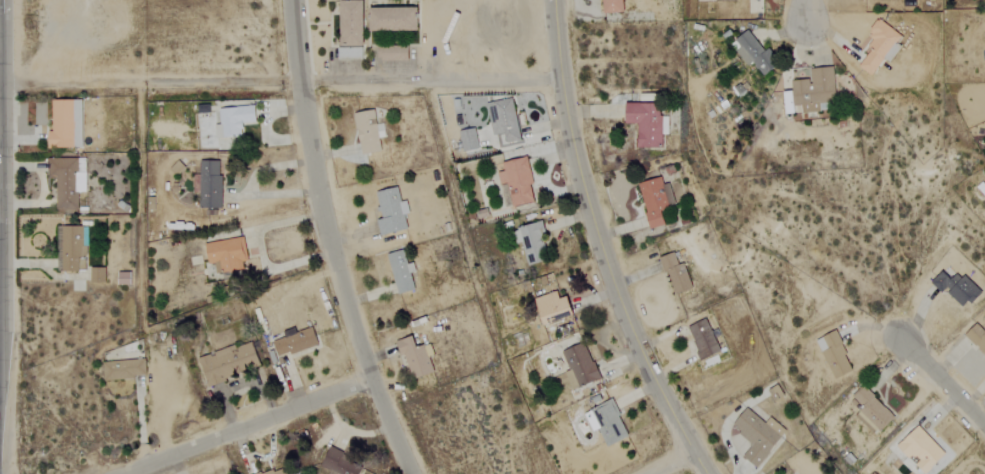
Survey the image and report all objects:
building: (726, 0)
building: (612, 6)
road: (803, 11)
building: (394, 18)
building: (352, 23)
building: (880, 47)
building: (393, 53)
building: (349, 54)
building: (756, 54)
road: (428, 79)
road: (149, 84)
building: (815, 91)
building: (788, 103)
building: (236, 120)
building: (65, 124)
building: (647, 124)
building: (368, 132)
building: (469, 140)
building: (517, 181)
building: (67, 182)
building: (210, 185)
building: (656, 201)
building: (392, 212)
road: (329, 243)
building: (533, 243)
road: (594, 247)
building: (72, 249)
road: (262, 252)
building: (226, 255)
building: (401, 272)
building: (676, 275)
building: (97, 276)
building: (124, 279)
building: (956, 288)
building: (554, 308)
building: (977, 337)
building: (703, 339)
building: (295, 343)
building: (834, 355)
building: (415, 358)
building: (230, 363)
building: (580, 367)
building: (124, 370)
road: (941, 384)
building: (871, 412)
building: (606, 423)
road: (240, 426)
building: (758, 436)
building: (921, 450)
road: (669, 463)
building: (339, 465)

